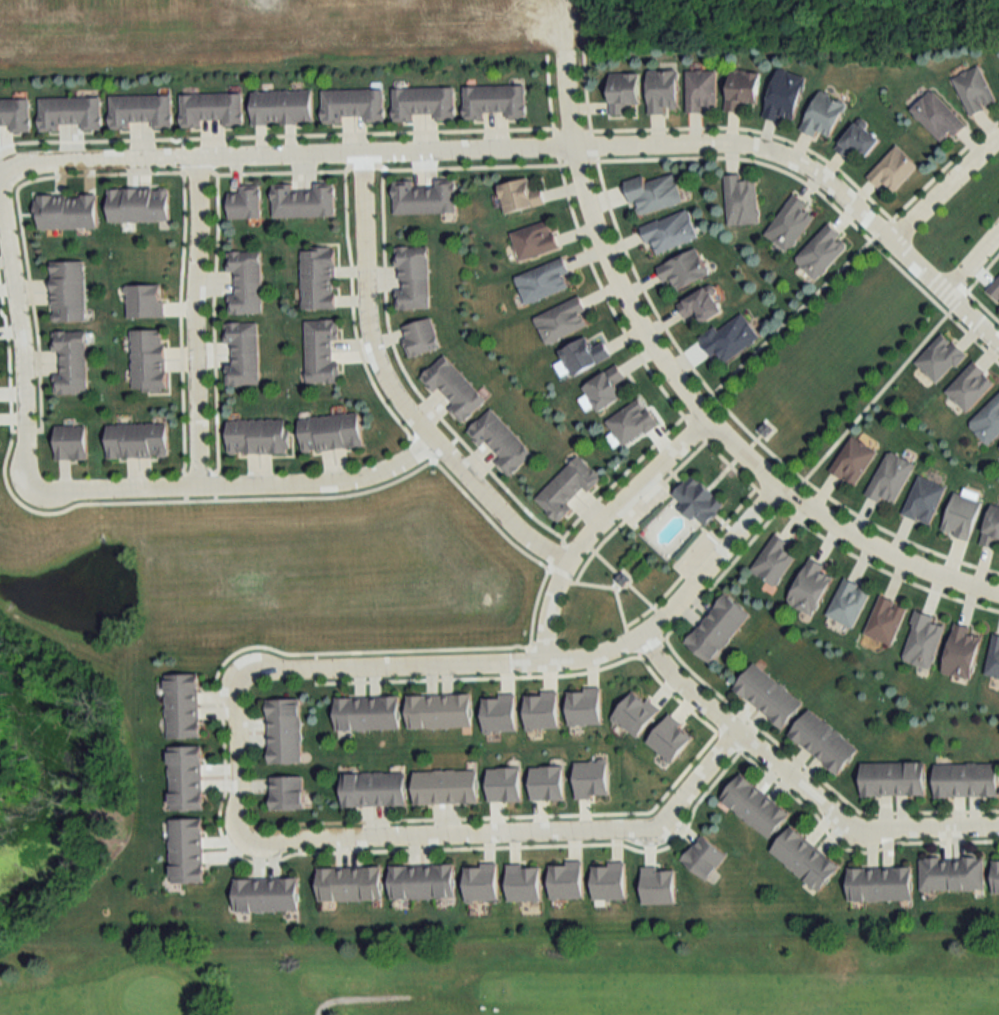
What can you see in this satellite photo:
building: (743, 88)
building: (974, 89)
building: (701, 90)
building: (624, 91)
building: (663, 91)
building: (785, 96)
building: (495, 100)
building: (424, 102)
building: (353, 105)
building: (283, 106)
building: (212, 108)
building: (141, 110)
building: (70, 112)
building: (16, 114)
building: (823, 114)
building: (937, 116)
building: (858, 140)
road: (716, 147)
road: (178, 158)
building: (892, 170)
road: (939, 185)
building: (654, 194)
building: (520, 195)
building: (425, 197)
building: (741, 199)
building: (304, 200)
building: (246, 202)
building: (140, 205)
building: (67, 212)
building: (789, 223)
building: (670, 232)
building: (535, 240)
building: (822, 251)
road: (972, 264)
building: (684, 270)
building: (319, 277)
building: (413, 277)
building: (246, 281)
building: (545, 281)
building: (995, 289)
building: (69, 291)
building: (702, 305)
building: (563, 320)
road: (194, 322)
road: (20, 334)
building: (421, 337)
building: (730, 338)
building: (322, 350)
building: (244, 353)
building: (585, 355)
building: (940, 357)
building: (149, 359)
building: (72, 360)
building: (969, 386)
building: (454, 387)
building: (606, 388)
road: (394, 391)
road: (691, 396)
building: (987, 421)
building: (632, 422)
building: (332, 432)
building: (259, 436)
building: (138, 440)
building: (501, 441)
building: (72, 442)
building: (852, 460)
building: (890, 478)
road: (238, 486)
building: (568, 487)
building: (697, 500)
building: (924, 500)
building: (961, 516)
road: (599, 521)
building: (992, 528)
building: (775, 560)
building: (810, 588)
building: (848, 603)
building: (885, 621)
building: (718, 628)
building: (923, 641)
building: (962, 653)
building: (993, 658)
road: (548, 661)
building: (768, 696)
building: (184, 706)
building: (440, 711)
building: (368, 714)
building: (285, 731)
building: (824, 742)
road: (232, 751)
building: (187, 778)
building: (894, 778)
building: (966, 780)
road: (801, 783)
building: (447, 787)
building: (374, 789)
building: (288, 793)
building: (756, 806)
road: (510, 832)
building: (187, 851)
building: (705, 858)
building: (805, 859)
building: (952, 874)
building: (996, 877)
building: (423, 882)
building: (350, 884)
building: (880, 884)
building: (267, 895)
park: (516, 976)

